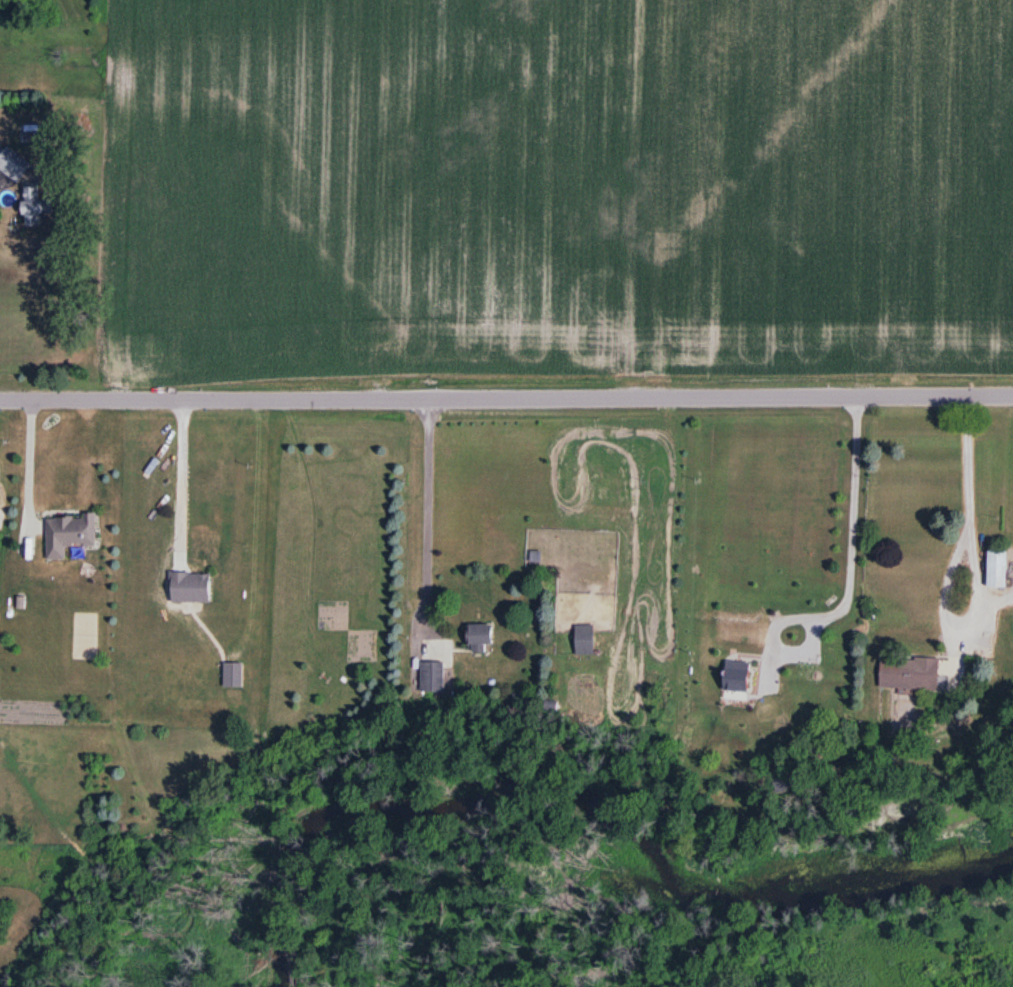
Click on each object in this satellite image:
building: (14, 164)
building: (35, 206)
road: (506, 394)
road: (30, 462)
building: (0, 473)
road: (183, 480)
road: (429, 517)
building: (69, 534)
building: (998, 569)
building: (190, 588)
building: (481, 638)
building: (585, 640)
building: (911, 674)
building: (233, 675)
building: (433, 679)
river: (594, 801)

